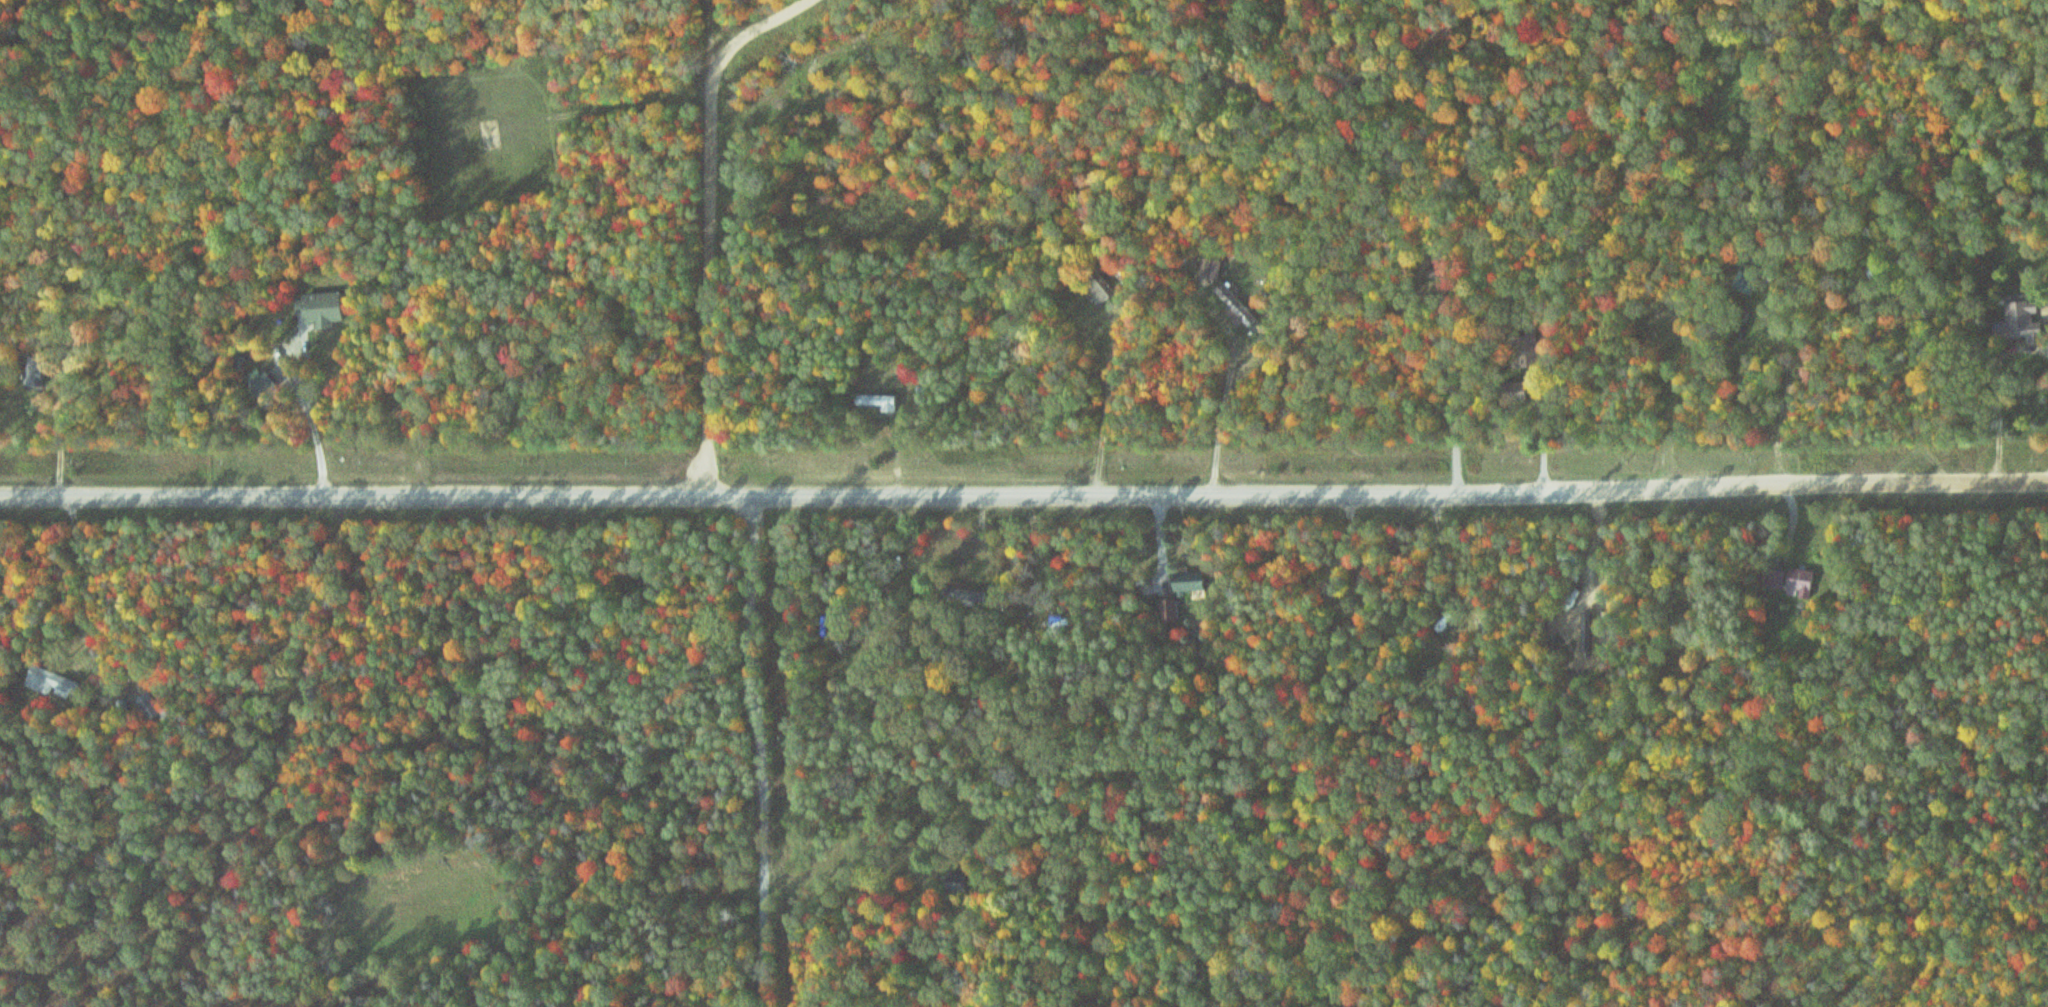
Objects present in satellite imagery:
road: (758, 27)
road: (719, 35)
road: (709, 283)
building: (1235, 308)
road: (2037, 309)
building: (323, 310)
building: (2016, 322)
building: (258, 382)
road: (2040, 397)
building: (879, 403)
road: (1810, 486)
road: (206, 492)
road: (557, 494)
road: (1137, 495)
building: (1190, 581)
building: (1795, 581)
building: (956, 592)
road: (131, 606)
building: (1173, 610)
building: (54, 683)
road: (466, 731)
road: (328, 742)
road: (765, 752)

